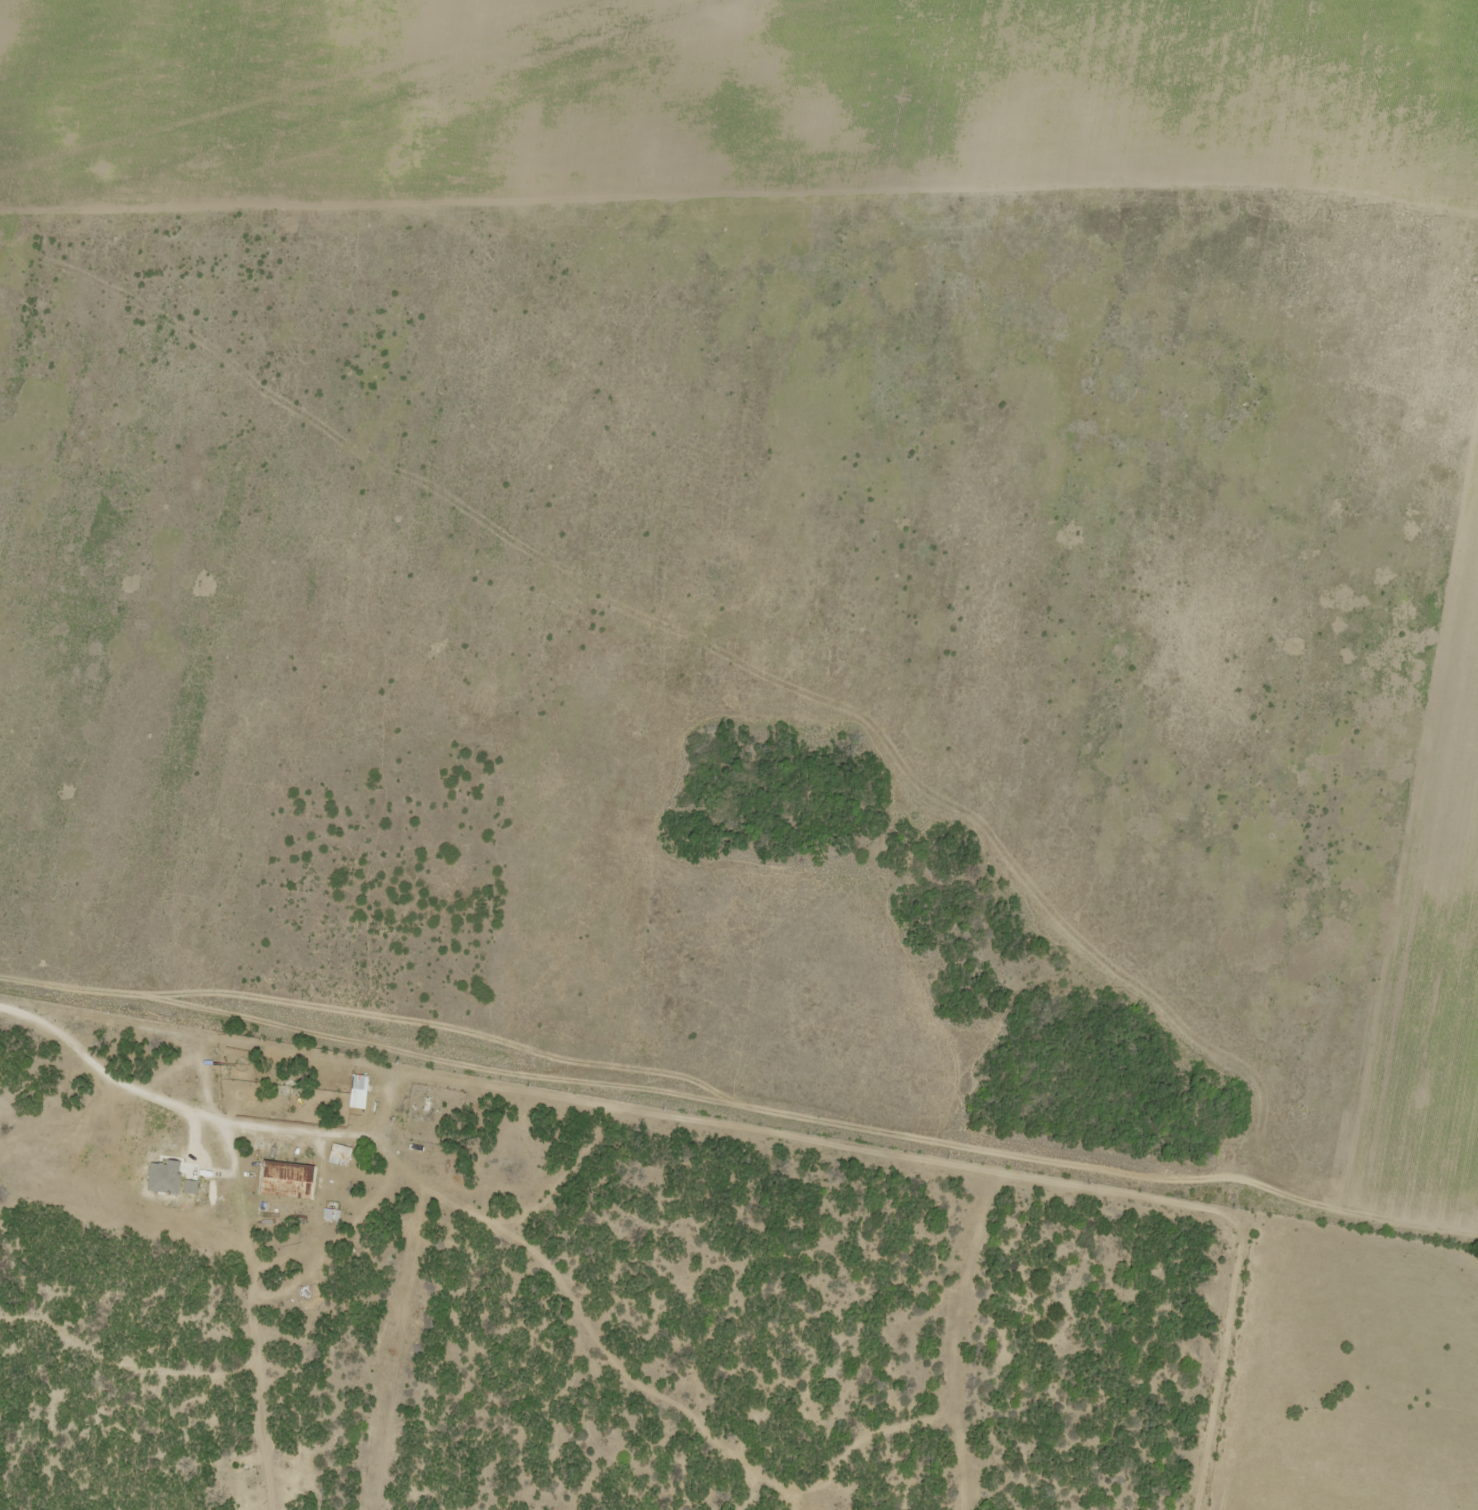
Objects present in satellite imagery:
road: (208, 47)
building: (356, 1091)
road: (169, 1102)
building: (337, 1154)
building: (285, 1179)

